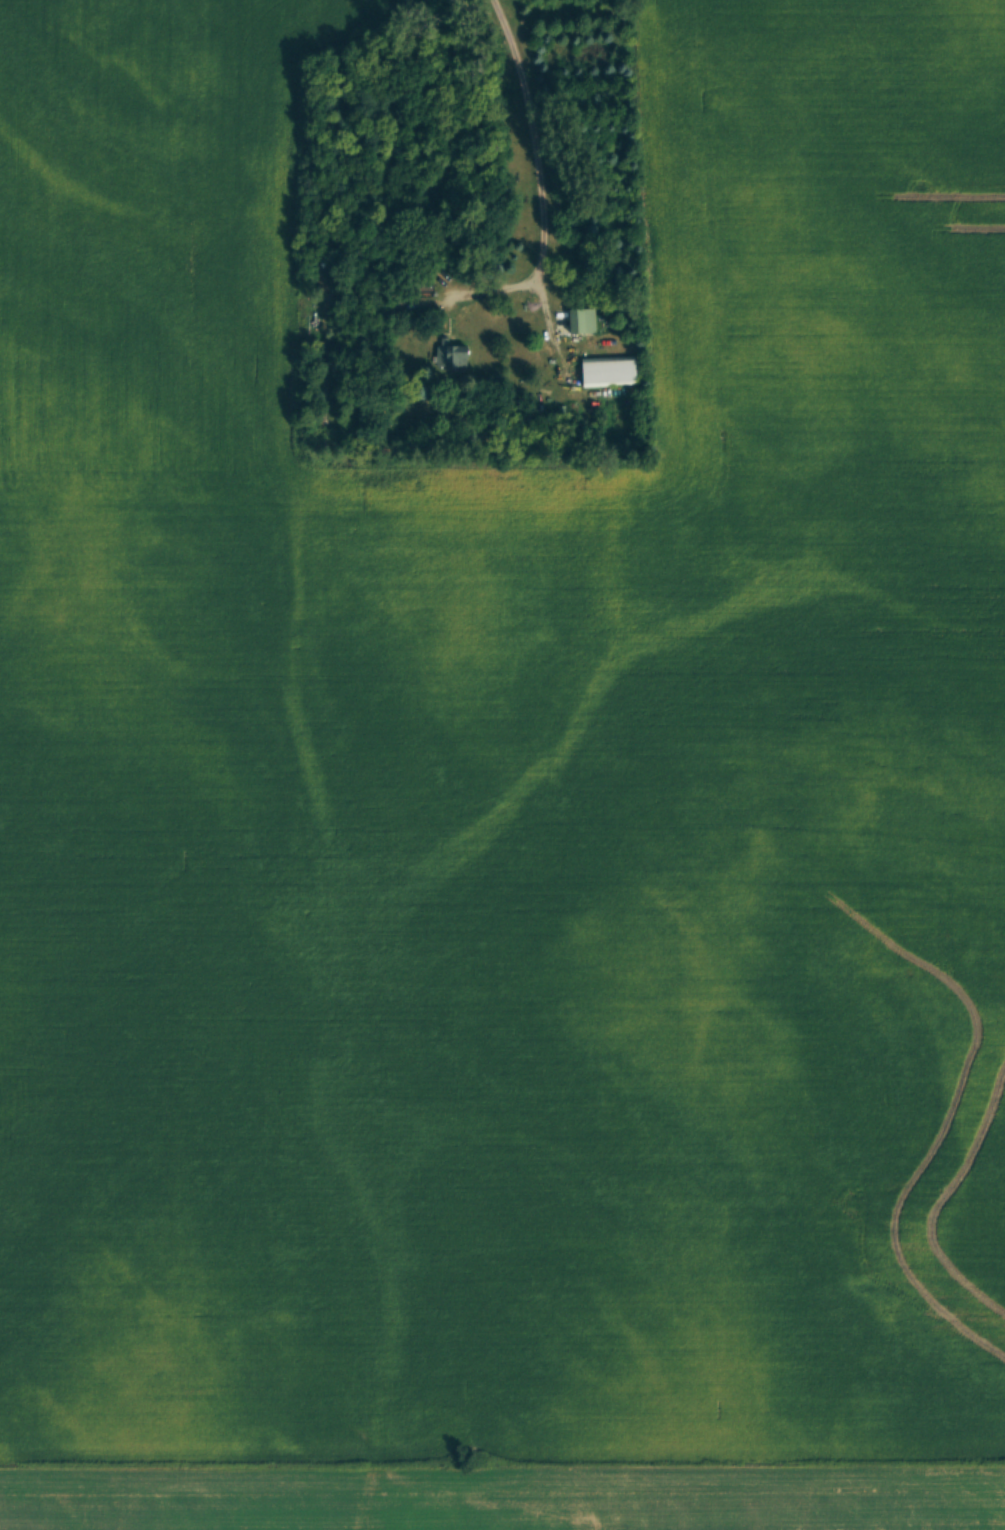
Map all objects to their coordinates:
road: (540, 174)
building: (574, 321)
building: (451, 353)
building: (609, 370)

